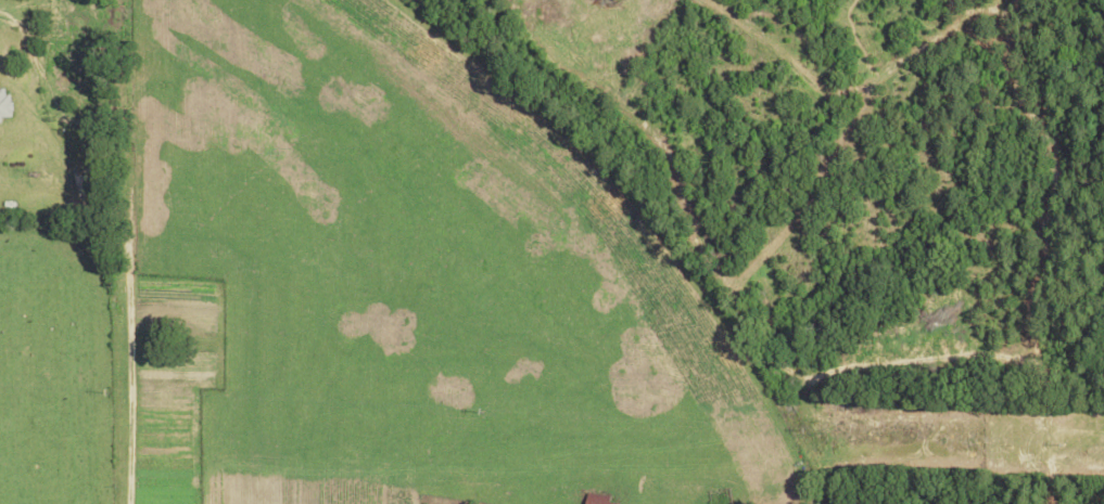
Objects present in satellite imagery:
building: (4, 103)
road: (102, 197)
road: (131, 404)
building: (598, 499)

